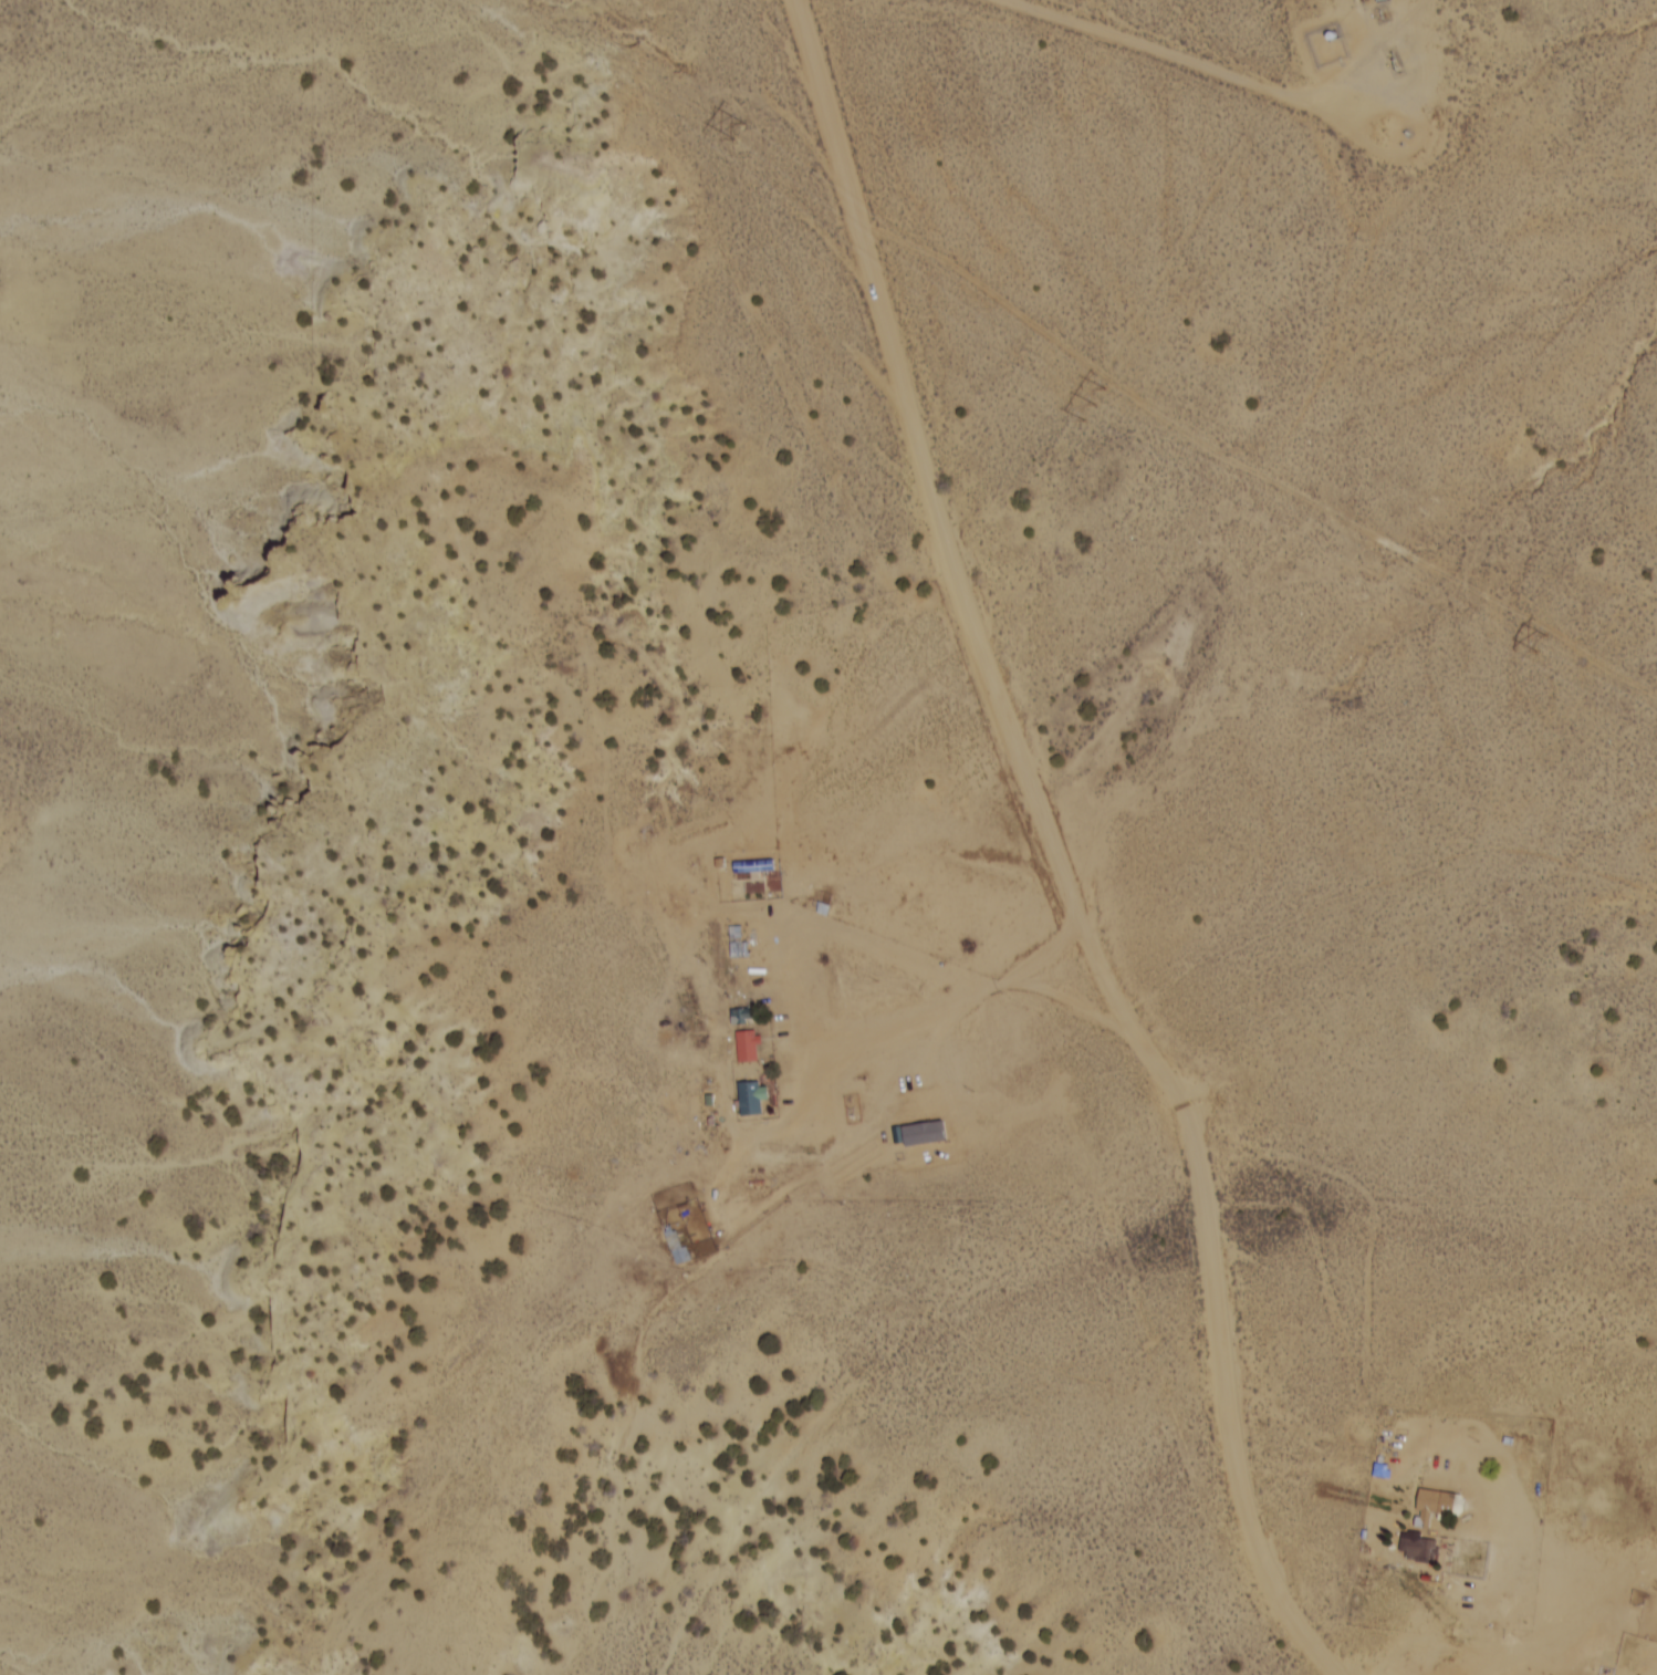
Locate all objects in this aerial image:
power tower: (734, 134)
power tower: (1093, 406)
power tower: (1524, 647)
road: (1059, 850)
building: (751, 867)
building: (746, 1048)
building: (749, 1101)
building: (675, 1248)
building: (1430, 1508)
building: (1406, 1548)

